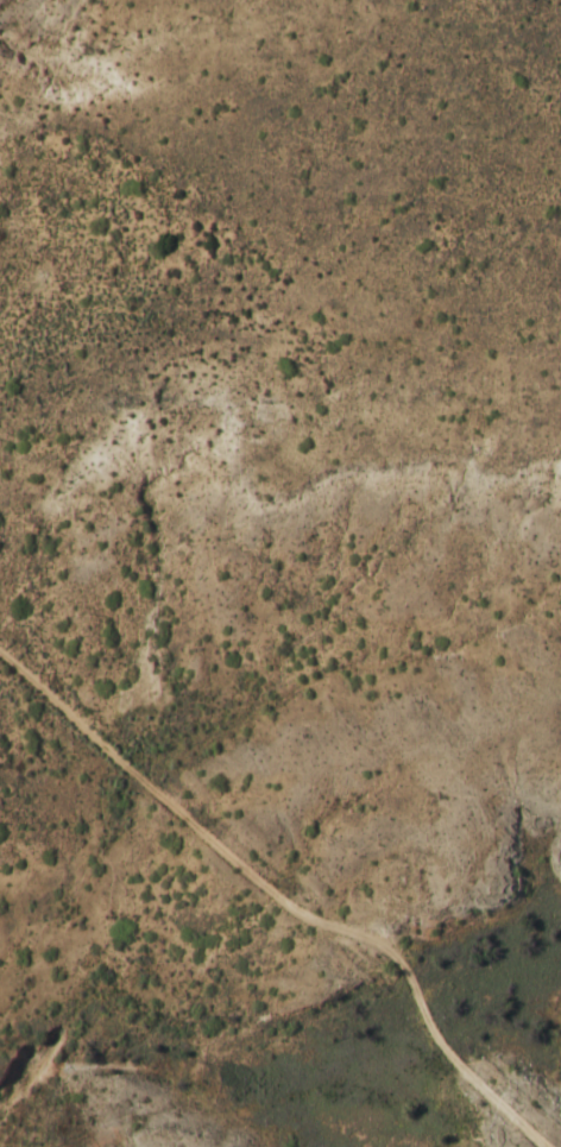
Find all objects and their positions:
road: (280, 878)

